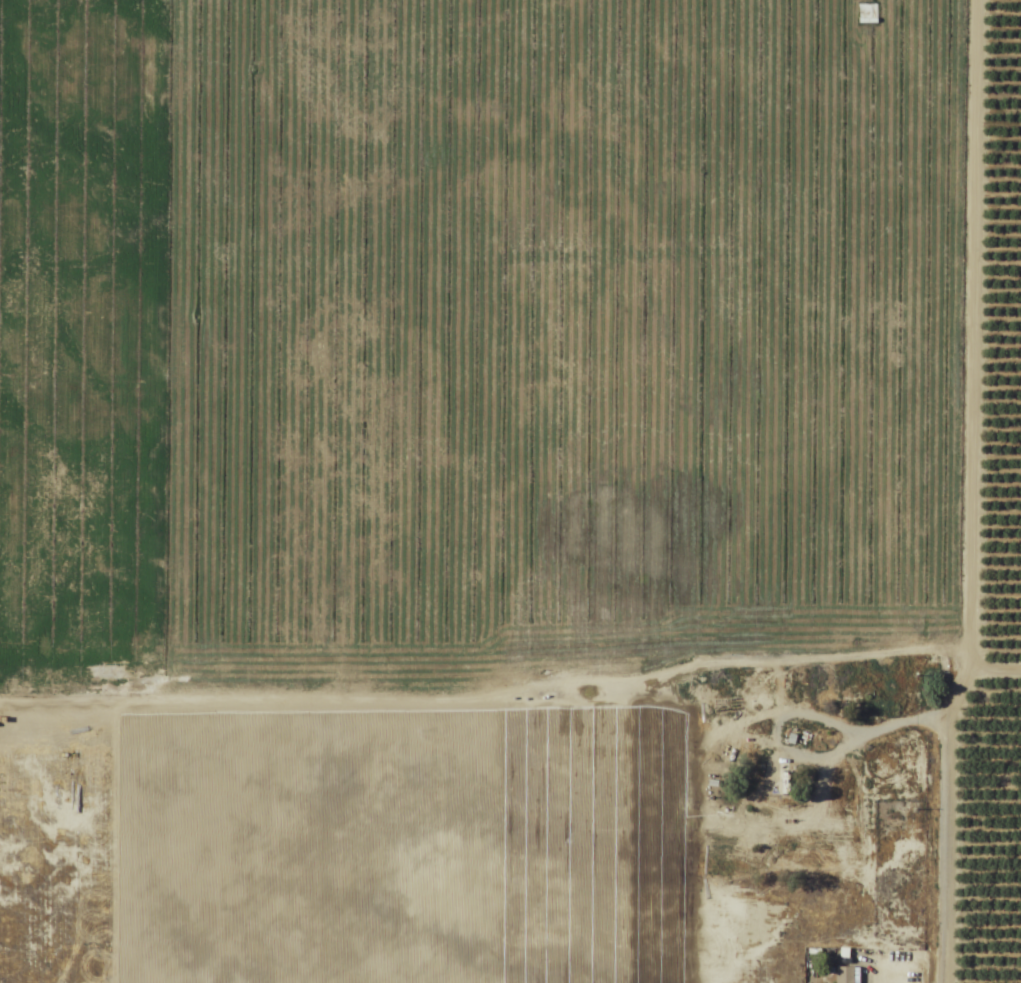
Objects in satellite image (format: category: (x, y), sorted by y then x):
building: (773, 774)
road: (952, 823)

